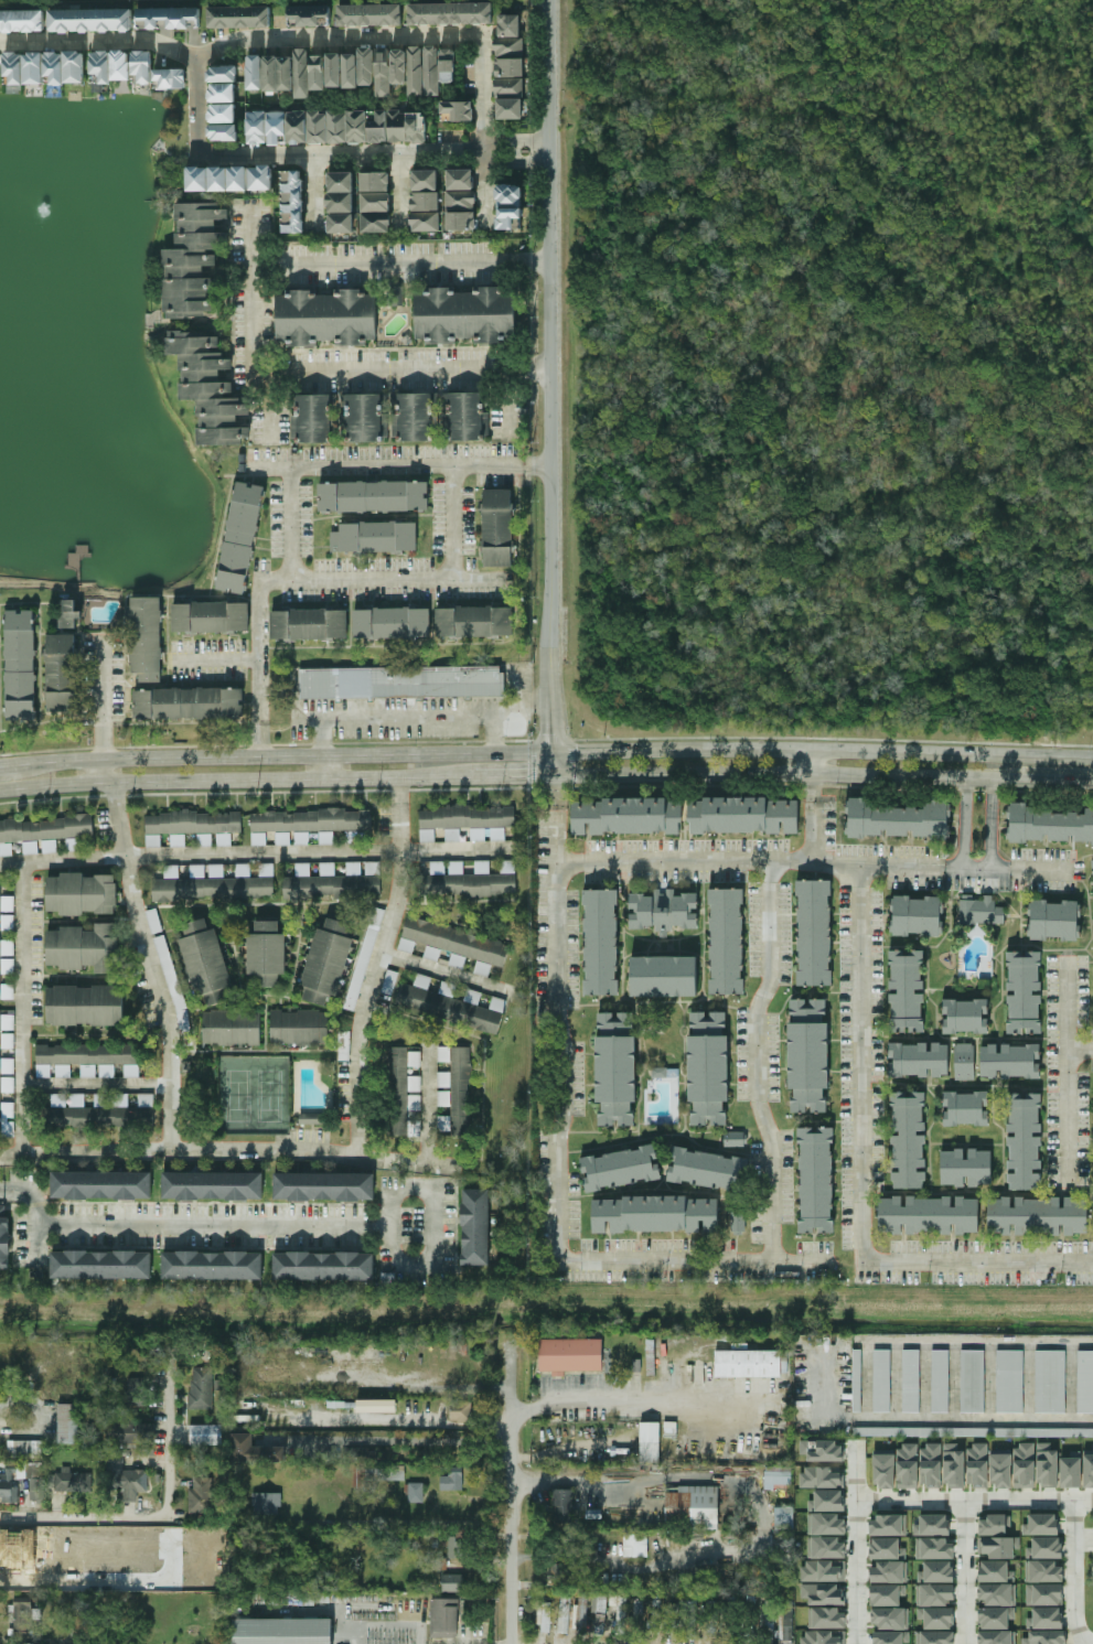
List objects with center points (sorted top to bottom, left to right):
building: (453, 14)
building: (312, 17)
building: (372, 17)
building: (172, 18)
building: (242, 19)
building: (93, 20)
building: (22, 21)
building: (512, 25)
road: (236, 40)
building: (512, 49)
building: (56, 67)
building: (122, 67)
building: (146, 67)
building: (451, 67)
building: (15, 68)
building: (35, 68)
building: (76, 68)
building: (369, 68)
building: (400, 68)
building: (512, 68)
building: (103, 69)
building: (337, 72)
building: (257, 73)
building: (354, 73)
building: (433, 73)
building: (321, 74)
building: (386, 74)
building: (417, 74)
building: (225, 75)
building: (274, 75)
building: (288, 75)
building: (304, 75)
building: (173, 79)
building: (510, 88)
building: (225, 94)
road: (196, 108)
building: (460, 110)
building: (513, 111)
building: (226, 115)
building: (319, 127)
building: (400, 127)
building: (258, 128)
building: (300, 128)
building: (340, 128)
building: (280, 129)
building: (361, 129)
building: (381, 129)
building: (420, 129)
road: (483, 132)
building: (227, 135)
road: (513, 140)
road: (341, 157)
road: (514, 164)
building: (201, 175)
building: (265, 175)
building: (222, 176)
building: (240, 176)
building: (428, 176)
building: (463, 176)
building: (344, 179)
building: (377, 180)
road: (398, 192)
road: (314, 193)
building: (513, 193)
building: (428, 198)
building: (462, 198)
building: (297, 200)
building: (344, 200)
building: (377, 200)
building: (514, 217)
building: (463, 219)
building: (345, 221)
building: (377, 221)
building: (427, 221)
road: (253, 237)
building: (193, 257)
road: (400, 262)
building: (392, 296)
building: (467, 313)
building: (328, 315)
road: (253, 320)
road: (400, 373)
road: (549, 375)
building: (210, 386)
road: (268, 406)
building: (468, 415)
building: (416, 416)
building: (317, 417)
building: (366, 417)
road: (403, 465)
building: (375, 495)
road: (289, 522)
road: (451, 522)
building: (500, 526)
building: (243, 536)
building: (375, 536)
road: (290, 578)
building: (69, 614)
building: (213, 616)
building: (478, 622)
building: (394, 623)
building: (310, 625)
building: (148, 637)
road: (215, 662)
building: (22, 665)
building: (63, 673)
building: (440, 681)
building: (337, 683)
road: (104, 701)
road: (533, 701)
building: (189, 703)
road: (424, 718)
traffic signals: (553, 731)
road: (496, 734)
road: (324, 737)
road: (823, 737)
road: (823, 750)
traffic signals: (577, 751)
road: (329, 754)
road: (811, 761)
road: (62, 763)
road: (553, 763)
road: (8, 766)
road: (324, 766)
road: (108, 771)
road: (823, 773)
road: (513, 775)
traffic signals: (526, 775)
road: (292, 778)
road: (54, 786)
traffic signals: (553, 792)
building: (743, 815)
building: (625, 816)
building: (465, 817)
road: (811, 817)
road: (554, 818)
building: (899, 819)
building: (310, 821)
building: (192, 823)
road: (965, 825)
road: (993, 825)
building: (1051, 825)
building: (45, 828)
road: (257, 852)
road: (811, 861)
building: (469, 884)
building: (330, 885)
building: (211, 888)
building: (79, 894)
building: (663, 910)
building: (979, 910)
building: (917, 916)
building: (1054, 920)
building: (813, 933)
building: (726, 941)
building: (6, 942)
building: (600, 942)
building: (454, 945)
building: (82, 948)
building: (265, 955)
building: (364, 958)
building: (205, 963)
building: (325, 964)
road: (150, 966)
road: (377, 967)
road: (441, 974)
building: (664, 976)
building: (389, 981)
building: (172, 984)
building: (907, 990)
building: (1024, 992)
building: (83, 1006)
road: (21, 1009)
building: (448, 1009)
building: (965, 1016)
building: (229, 1028)
building: (298, 1028)
road: (1079, 1050)
building: (85, 1054)
building: (807, 1054)
building: (918, 1059)
building: (964, 1061)
building: (1009, 1061)
road: (756, 1063)
road: (859, 1065)
building: (708, 1067)
building: (615, 1070)
road: (1065, 1071)
building: (658, 1072)
road: (94, 1085)
building: (460, 1090)
building: (396, 1092)
building: (57, 1100)
road: (428, 1103)
building: (965, 1108)
building: (96, 1117)
building: (311, 1118)
building: (414, 1128)
building: (735, 1138)
building: (908, 1139)
building: (1024, 1140)
road: (226, 1150)
building: (620, 1168)
building: (965, 1168)
building: (706, 1169)
building: (815, 1180)
building: (101, 1185)
building: (213, 1185)
building: (323, 1186)
road: (556, 1197)
building: (655, 1214)
building: (928, 1215)
building: (1037, 1215)
building: (737, 1221)
road: (185, 1222)
building: (475, 1226)
road: (37, 1233)
road: (438, 1235)
building: (4, 1236)
building: (100, 1265)
building: (212, 1265)
building: (323, 1266)
road: (976, 1266)
building: (570, 1355)
building: (751, 1363)
building: (857, 1380)
building: (881, 1380)
building: (911, 1380)
building: (940, 1380)
building: (973, 1380)
building: (1009, 1380)
building: (1050, 1382)
building: (1084, 1382)
building: (201, 1387)
building: (136, 1392)
road: (631, 1399)
building: (376, 1406)
building: (460, 1410)
road: (928, 1419)
building: (67, 1423)
building: (977, 1431)
building: (130, 1433)
building: (205, 1433)
road: (432, 1441)
building: (649, 1441)
building: (25, 1449)
building: (254, 1450)
building: (1047, 1464)
building: (930, 1465)
building: (953, 1465)
building: (977, 1465)
building: (1024, 1465)
building: (907, 1466)
building: (1000, 1469)
building: (883, 1470)
building: (1071, 1470)
building: (1087, 1470)
building: (385, 1473)
building: (124, 1476)
road: (556, 1476)
building: (821, 1478)
building: (452, 1480)
building: (778, 1480)
building: (69, 1481)
building: (8, 1489)
building: (416, 1492)
road: (515, 1493)
building: (201, 1495)
building: (827, 1501)
road: (973, 1501)
building: (266, 1503)
building: (562, 1505)
building: (693, 1507)
building: (783, 1517)
road: (150, 1519)
building: (826, 1524)
building: (1041, 1524)
building: (887, 1525)
building: (932, 1525)
building: (996, 1537)
building: (635, 1545)
road: (854, 1545)
building: (456, 1547)
building: (826, 1547)
building: (886, 1548)
building: (934, 1548)
building: (1044, 1548)
building: (823, 1570)
building: (936, 1571)
building: (995, 1571)
building: (1044, 1571)
building: (887, 1572)
road: (965, 1572)
road: (1075, 1575)
building: (452, 1582)
building: (823, 1593)
building: (996, 1593)
building: (935, 1594)
building: (1043, 1594)
building: (885, 1595)
building: (620, 1609)
building: (580, 1611)
building: (599, 1613)
building: (564, 1614)
building: (655, 1616)
building: (443, 1618)
building: (545, 1618)
building: (671, 1618)
building: (826, 1618)
building: (936, 1618)
building: (995, 1618)
building: (1046, 1618)
building: (690, 1619)
building: (767, 1619)
building: (890, 1619)
building: (22, 1620)
building: (281, 1631)
building: (823, 1636)
building: (891, 1637)
building: (934, 1637)
building: (996, 1637)
building: (1046, 1637)

